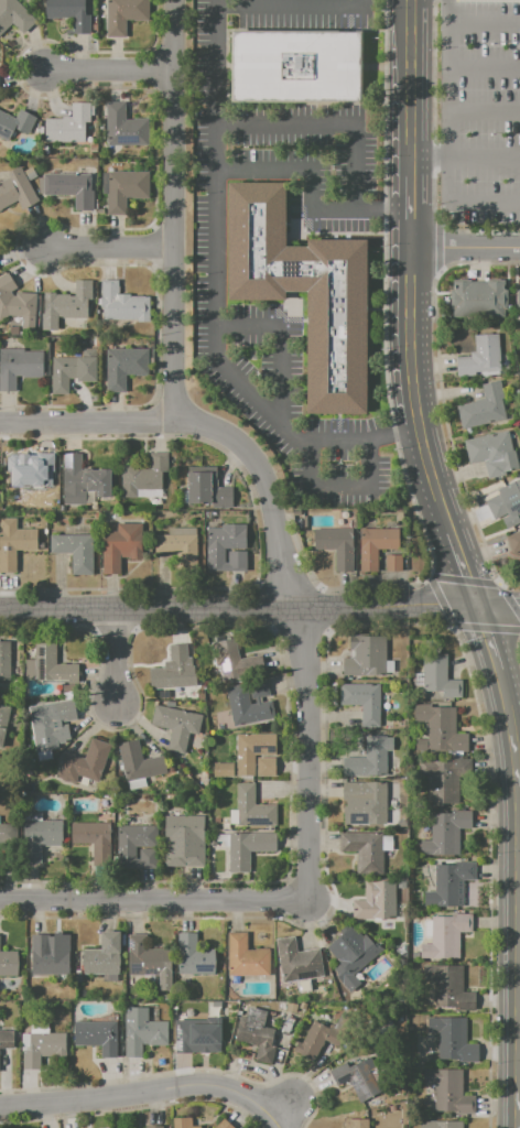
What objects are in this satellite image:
building: (68, 13)
building: (122, 15)
building: (14, 17)
road: (483, 23)
flagpole: (371, 40)
flagpole: (371, 48)
building: (293, 67)
road: (483, 68)
road: (112, 73)
road: (446, 105)
parking lot: (478, 108)
road: (483, 116)
road: (356, 123)
road: (410, 123)
building: (14, 124)
building: (67, 126)
building: (124, 127)
road: (216, 163)
road: (465, 164)
road: (306, 167)
building: (17, 188)
building: (71, 188)
building: (123, 191)
road: (483, 209)
road: (175, 211)
road: (464, 247)
road: (109, 249)
building: (335, 294)
building: (464, 299)
building: (491, 299)
building: (518, 301)
building: (71, 302)
building: (17, 303)
building: (120, 304)
road: (280, 339)
building: (480, 358)
building: (19, 367)
building: (123, 367)
building: (71, 371)
road: (386, 386)
road: (411, 392)
building: (484, 408)
road: (87, 423)
road: (393, 435)
road: (336, 437)
building: (491, 453)
building: (32, 475)
building: (143, 478)
building: (82, 480)
road: (340, 485)
road: (266, 488)
building: (206, 489)
building: (505, 500)
building: (107, 517)
building: (513, 542)
building: (14, 543)
building: (223, 543)
building: (335, 546)
building: (375, 546)
building: (118, 547)
building: (183, 549)
building: (74, 552)
building: (237, 562)
building: (392, 564)
road: (463, 567)
road: (429, 582)
road: (306, 594)
traffic signals: (477, 604)
road: (498, 604)
road: (238, 605)
road: (491, 653)
road: (116, 654)
building: (366, 655)
building: (232, 659)
building: (4, 661)
building: (48, 666)
building: (391, 666)
building: (171, 670)
building: (438, 676)
building: (418, 679)
building: (258, 688)
building: (362, 702)
building: (246, 706)
building: (52, 719)
building: (2, 720)
building: (175, 725)
building: (221, 726)
building: (440, 727)
building: (251, 750)
road: (308, 751)
building: (369, 757)
building: (139, 762)
building: (85, 763)
building: (170, 767)
building: (266, 767)
building: (221, 770)
building: (441, 780)
building: (138, 784)
building: (368, 798)
building: (392, 803)
building: (252, 809)
building: (33, 816)
building: (232, 816)
building: (216, 821)
building: (402, 823)
building: (4, 833)
building: (445, 833)
building: (91, 836)
building: (37, 838)
building: (223, 838)
building: (183, 839)
building: (212, 843)
building: (388, 843)
building: (126, 848)
building: (247, 849)
building: (364, 849)
building: (448, 883)
building: (401, 885)
road: (154, 898)
building: (376, 901)
road: (519, 914)
building: (446, 936)
building: (350, 955)
building: (414, 955)
building: (101, 956)
building: (142, 956)
building: (193, 956)
building: (47, 957)
building: (245, 958)
building: (296, 961)
building: (8, 964)
building: (448, 987)
building: (142, 1032)
building: (201, 1033)
building: (97, 1035)
building: (6, 1039)
building: (452, 1039)
building: (256, 1040)
building: (318, 1040)
building: (41, 1049)
building: (356, 1078)
building: (448, 1091)
road: (140, 1092)
road: (284, 1106)
road: (277, 1121)
building: (182, 1122)
building: (355, 1124)
building: (441, 1124)
building: (224, 1125)
building: (155, 1127)

